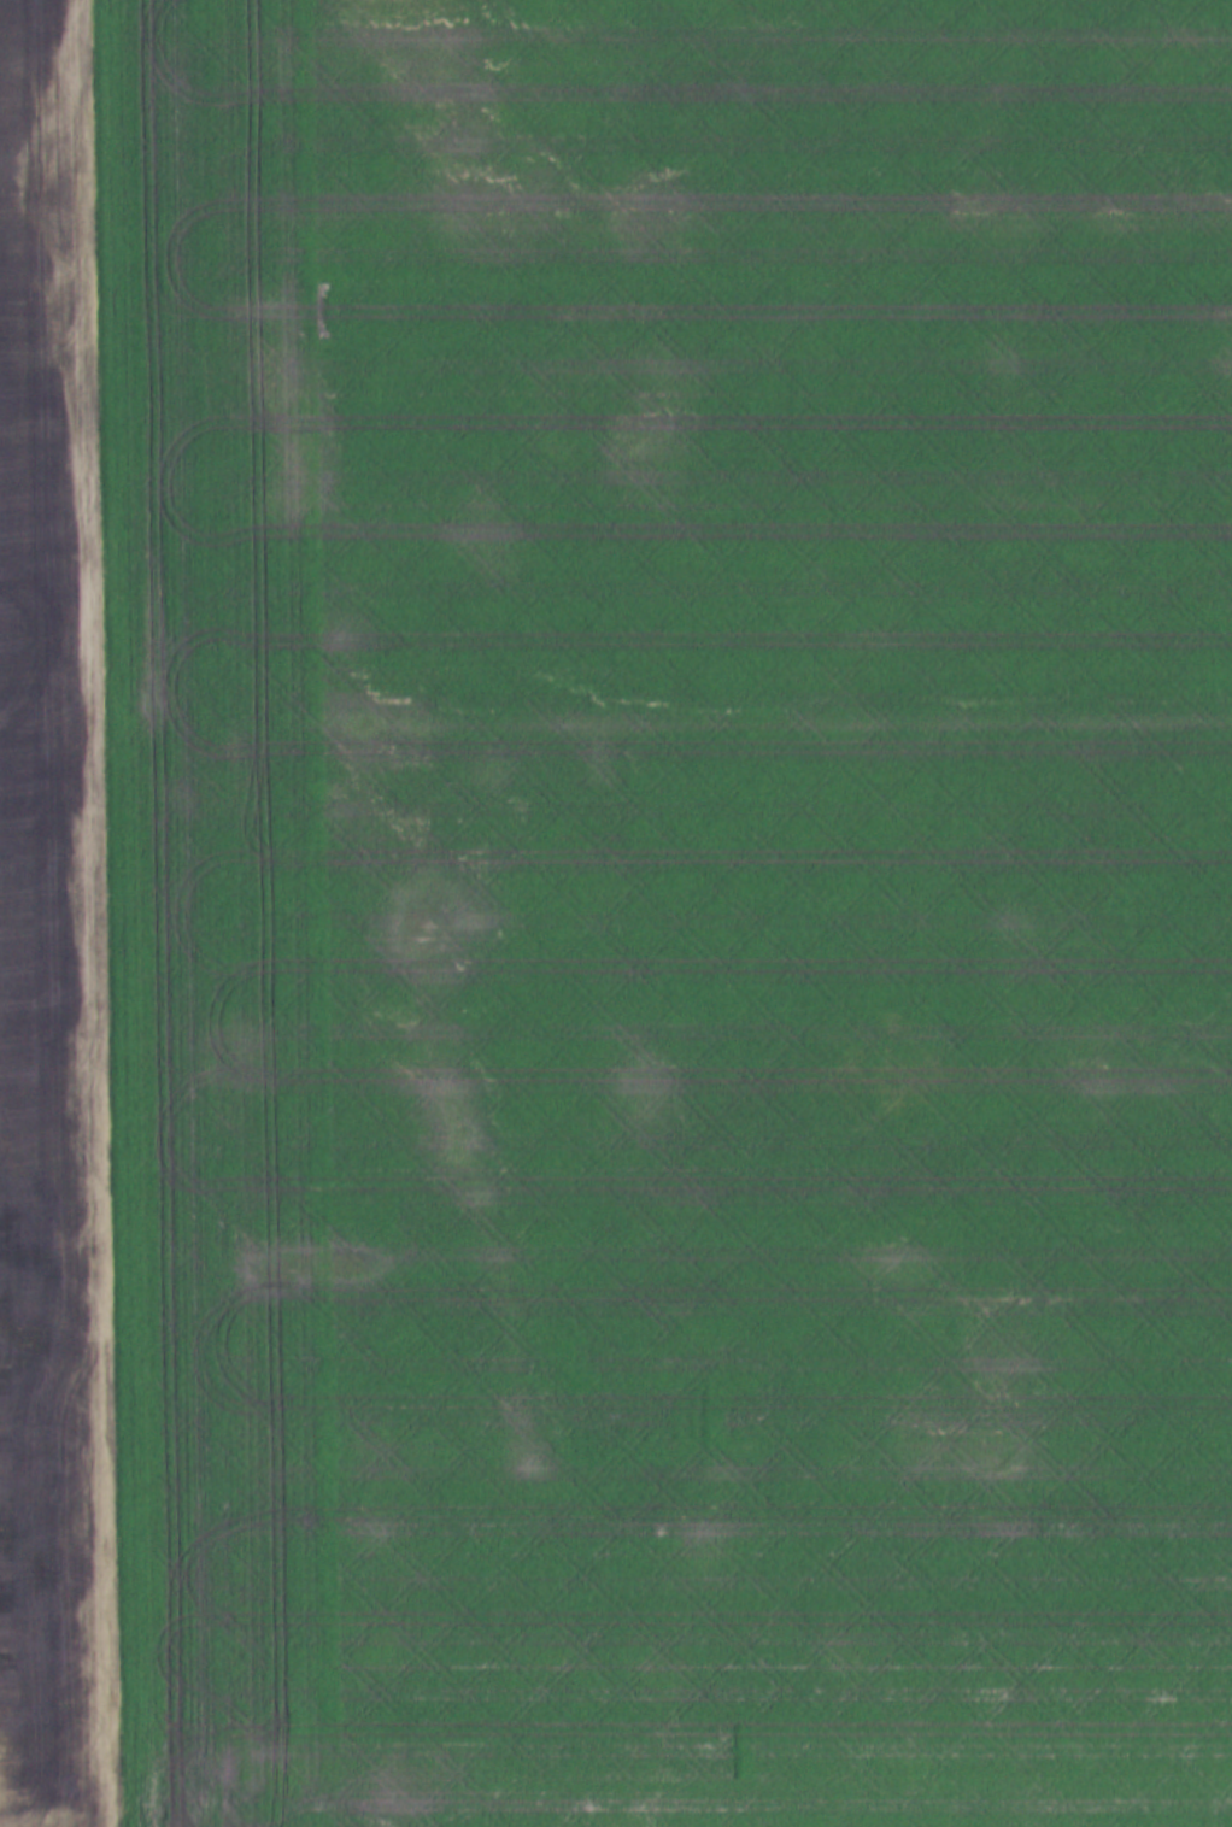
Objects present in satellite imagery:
crop: (673, 909)

